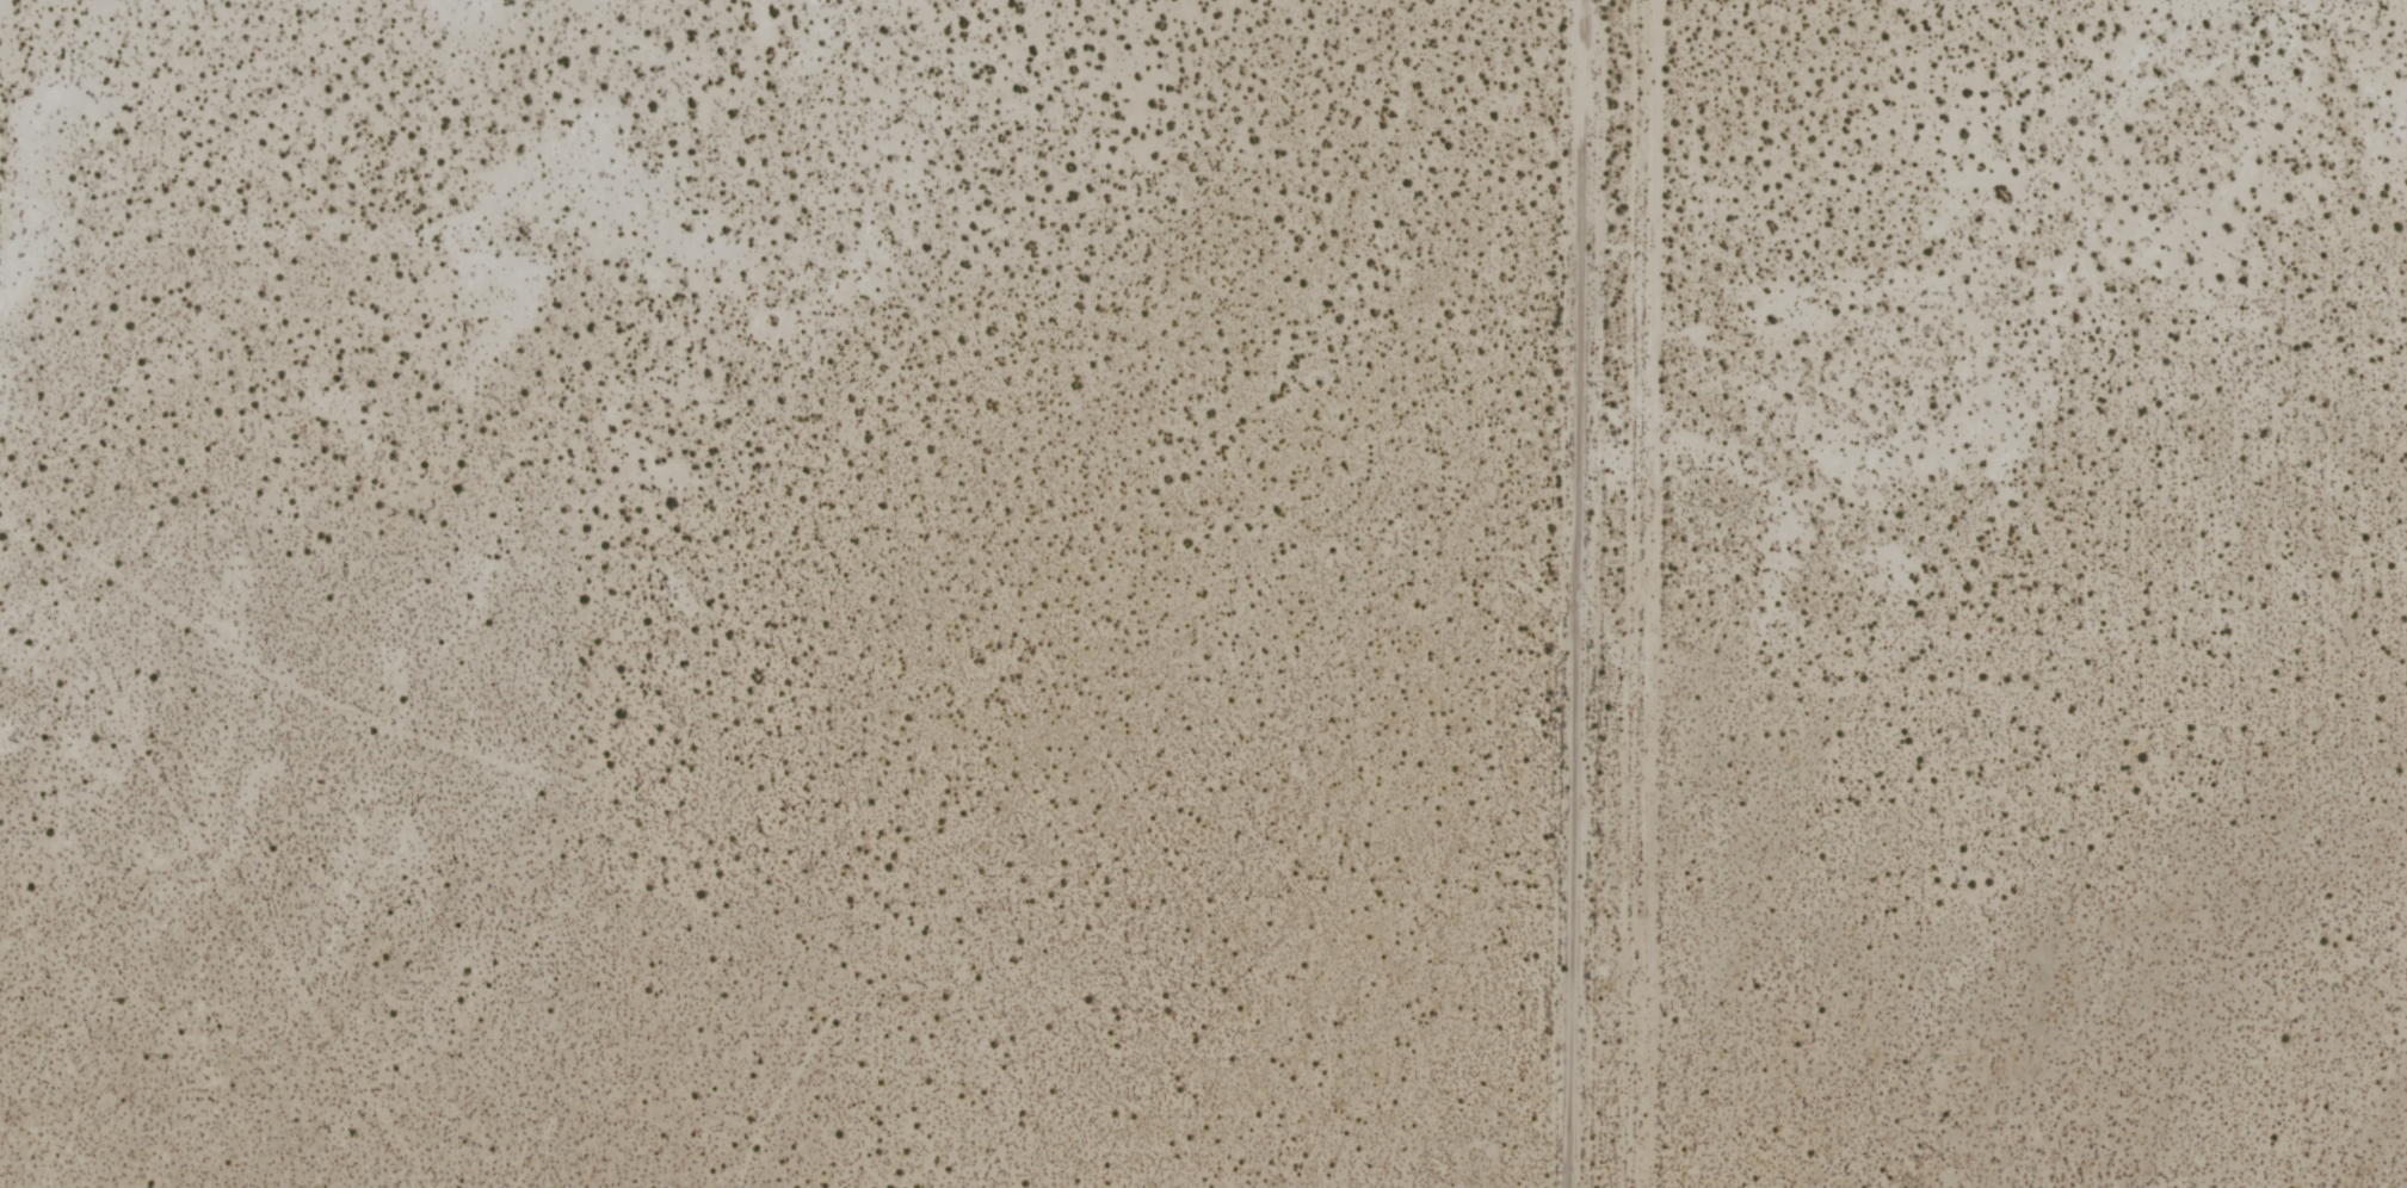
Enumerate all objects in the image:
road: (1578, 594)
airport: (2045, 595)

